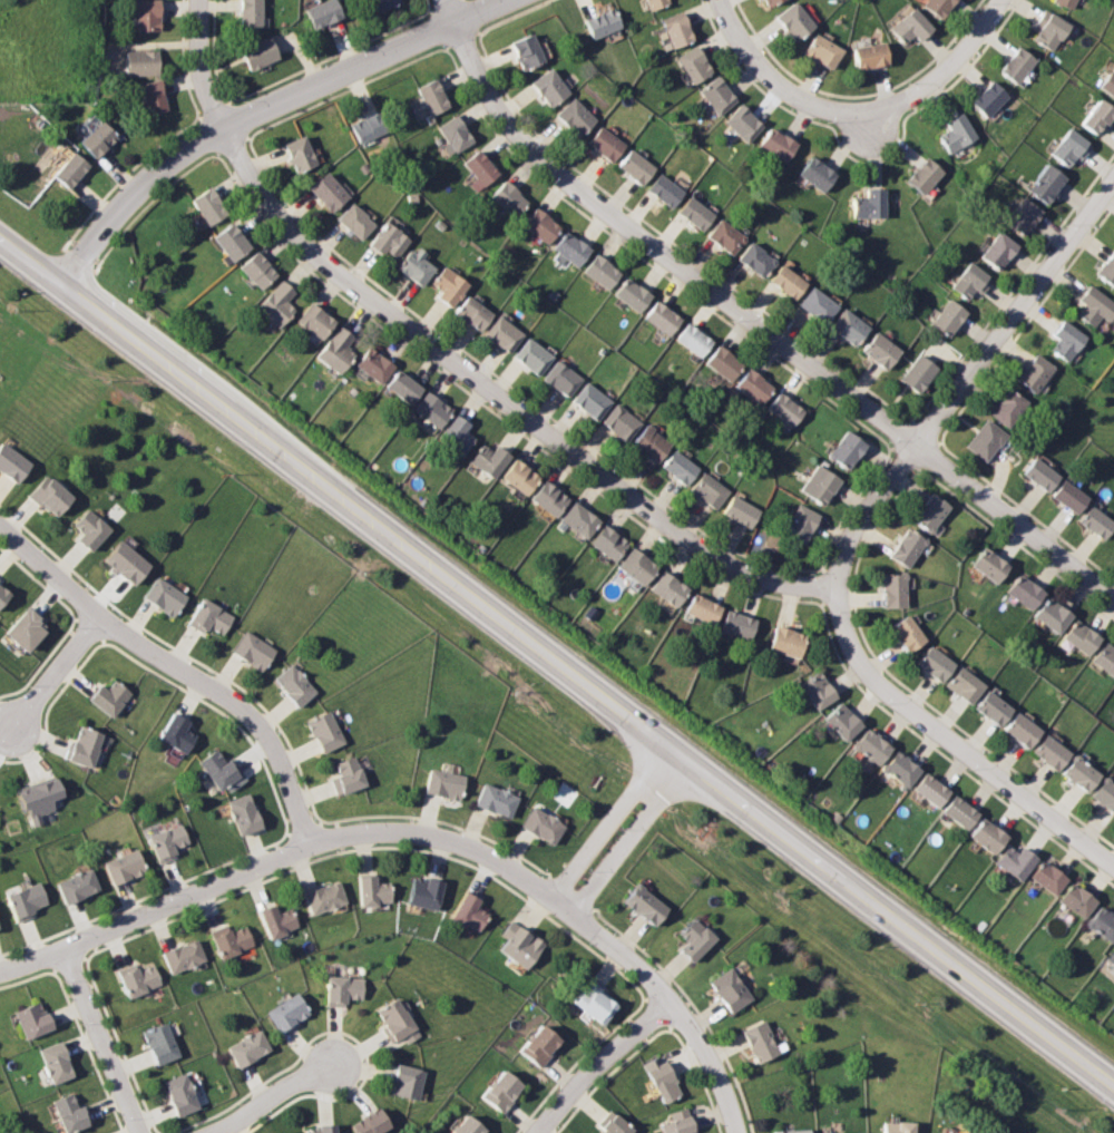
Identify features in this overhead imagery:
building: (766, 1)
building: (387, 2)
building: (653, 2)
building: (1063, 2)
building: (931, 6)
road: (456, 10)
building: (323, 11)
building: (251, 12)
building: (148, 14)
building: (791, 19)
building: (602, 21)
building: (906, 25)
building: (674, 27)
building: (1045, 27)
building: (820, 48)
building: (529, 50)
building: (261, 51)
building: (867, 53)
building: (143, 61)
building: (692, 61)
building: (1013, 61)
road: (205, 65)
road: (951, 69)
road: (780, 82)
building: (1110, 82)
building: (551, 86)
building: (715, 92)
building: (154, 95)
building: (434, 96)
road: (854, 96)
building: (985, 96)
road: (257, 110)
building: (577, 116)
building: (1098, 116)
building: (742, 120)
road: (876, 120)
building: (371, 126)
building: (954, 131)
building: (457, 133)
building: (98, 138)
building: (775, 141)
building: (607, 143)
building: (1071, 147)
building: (301, 154)
road: (860, 162)
building: (636, 166)
building: (482, 167)
building: (70, 168)
building: (813, 172)
building: (919, 173)
building: (1047, 183)
building: (666, 189)
building: (329, 191)
building: (510, 198)
building: (867, 202)
building: (208, 205)
building: (696, 212)
building: (1024, 215)
building: (355, 221)
building: (541, 224)
building: (726, 235)
building: (389, 241)
building: (232, 242)
building: (573, 248)
building: (999, 250)
building: (756, 258)
building: (416, 266)
building: (1107, 267)
building: (257, 268)
building: (602, 271)
building: (788, 281)
building: (970, 281)
building: (448, 285)
building: (633, 294)
building: (276, 303)
building: (818, 304)
building: (1095, 305)
building: (473, 312)
building: (662, 316)
building: (948, 316)
building: (315, 320)
building: (848, 326)
road: (763, 328)
building: (502, 333)
building: (693, 338)
building: (1066, 340)
building: (336, 349)
building: (880, 350)
building: (531, 355)
building: (723, 362)
building: (374, 363)
building: (918, 372)
building: (1035, 372)
building: (561, 377)
road: (966, 380)
building: (753, 384)
building: (403, 385)
building: (590, 399)
road: (505, 400)
building: (1008, 407)
building: (432, 408)
building: (785, 408)
building: (619, 420)
building: (457, 432)
building: (985, 439)
building: (651, 442)
building: (847, 449)
building: (490, 458)
building: (12, 461)
building: (678, 466)
building: (1040, 473)
building: (520, 475)
building: (819, 484)
building: (707, 489)
building: (51, 495)
building: (1069, 496)
building: (549, 497)
building: (739, 510)
building: (930, 511)
building: (579, 518)
building: (1098, 521)
building: (800, 522)
building: (91, 528)
building: (608, 541)
building: (906, 547)
building: (126, 561)
building: (990, 564)
building: (637, 566)
building: (668, 587)
building: (893, 589)
building: (1026, 590)
building: (4, 592)
building: (166, 596)
building: (702, 608)
building: (1055, 614)
building: (209, 617)
building: (737, 623)
building: (28, 629)
building: (907, 634)
building: (1084, 636)
building: (786, 641)
building: (254, 649)
building: (1106, 656)
building: (936, 662)
road: (557, 665)
road: (180, 670)
road: (59, 673)
building: (295, 684)
building: (966, 685)
building: (818, 690)
building: (110, 697)
building: (995, 707)
building: (842, 721)
building: (1024, 730)
building: (326, 731)
building: (178, 732)
road: (951, 743)
building: (872, 745)
building: (87, 746)
building: (1053, 751)
building: (221, 768)
building: (901, 769)
building: (1083, 773)
building: (350, 775)
building: (446, 783)
building: (931, 789)
building: (1106, 793)
building: (42, 797)
building: (498, 799)
building: (961, 811)
building: (246, 813)
building: (544, 823)
road: (626, 833)
building: (989, 834)
road: (426, 836)
building: (169, 840)
building: (1018, 860)
building: (126, 865)
building: (1051, 877)
building: (78, 885)
building: (375, 890)
building: (427, 891)
building: (325, 897)
building: (27, 899)
building: (1078, 899)
building: (647, 904)
building: (471, 910)
building: (278, 920)
building: (1104, 922)
building: (696, 938)
building: (234, 940)
building: (521, 944)
building: (184, 956)
building: (1112, 956)
building: (139, 979)
building: (346, 989)
building: (732, 989)
building: (597, 1003)
building: (289, 1012)
building: (33, 1019)
building: (397, 1019)
road: (104, 1041)
building: (761, 1041)
building: (162, 1044)
building: (541, 1044)
building: (250, 1048)
building: (57, 1062)
road: (607, 1072)
building: (664, 1078)
building: (409, 1081)
building: (504, 1091)
building: (183, 1094)
road: (271, 1096)
building: (70, 1113)
building: (678, 1122)
building: (371, 1123)
building: (616, 1125)
building: (469, 1126)
building: (896, 1126)
building: (323, 1129)
building: (791, 1131)
building: (950, 1131)
building: (843, 1132)

